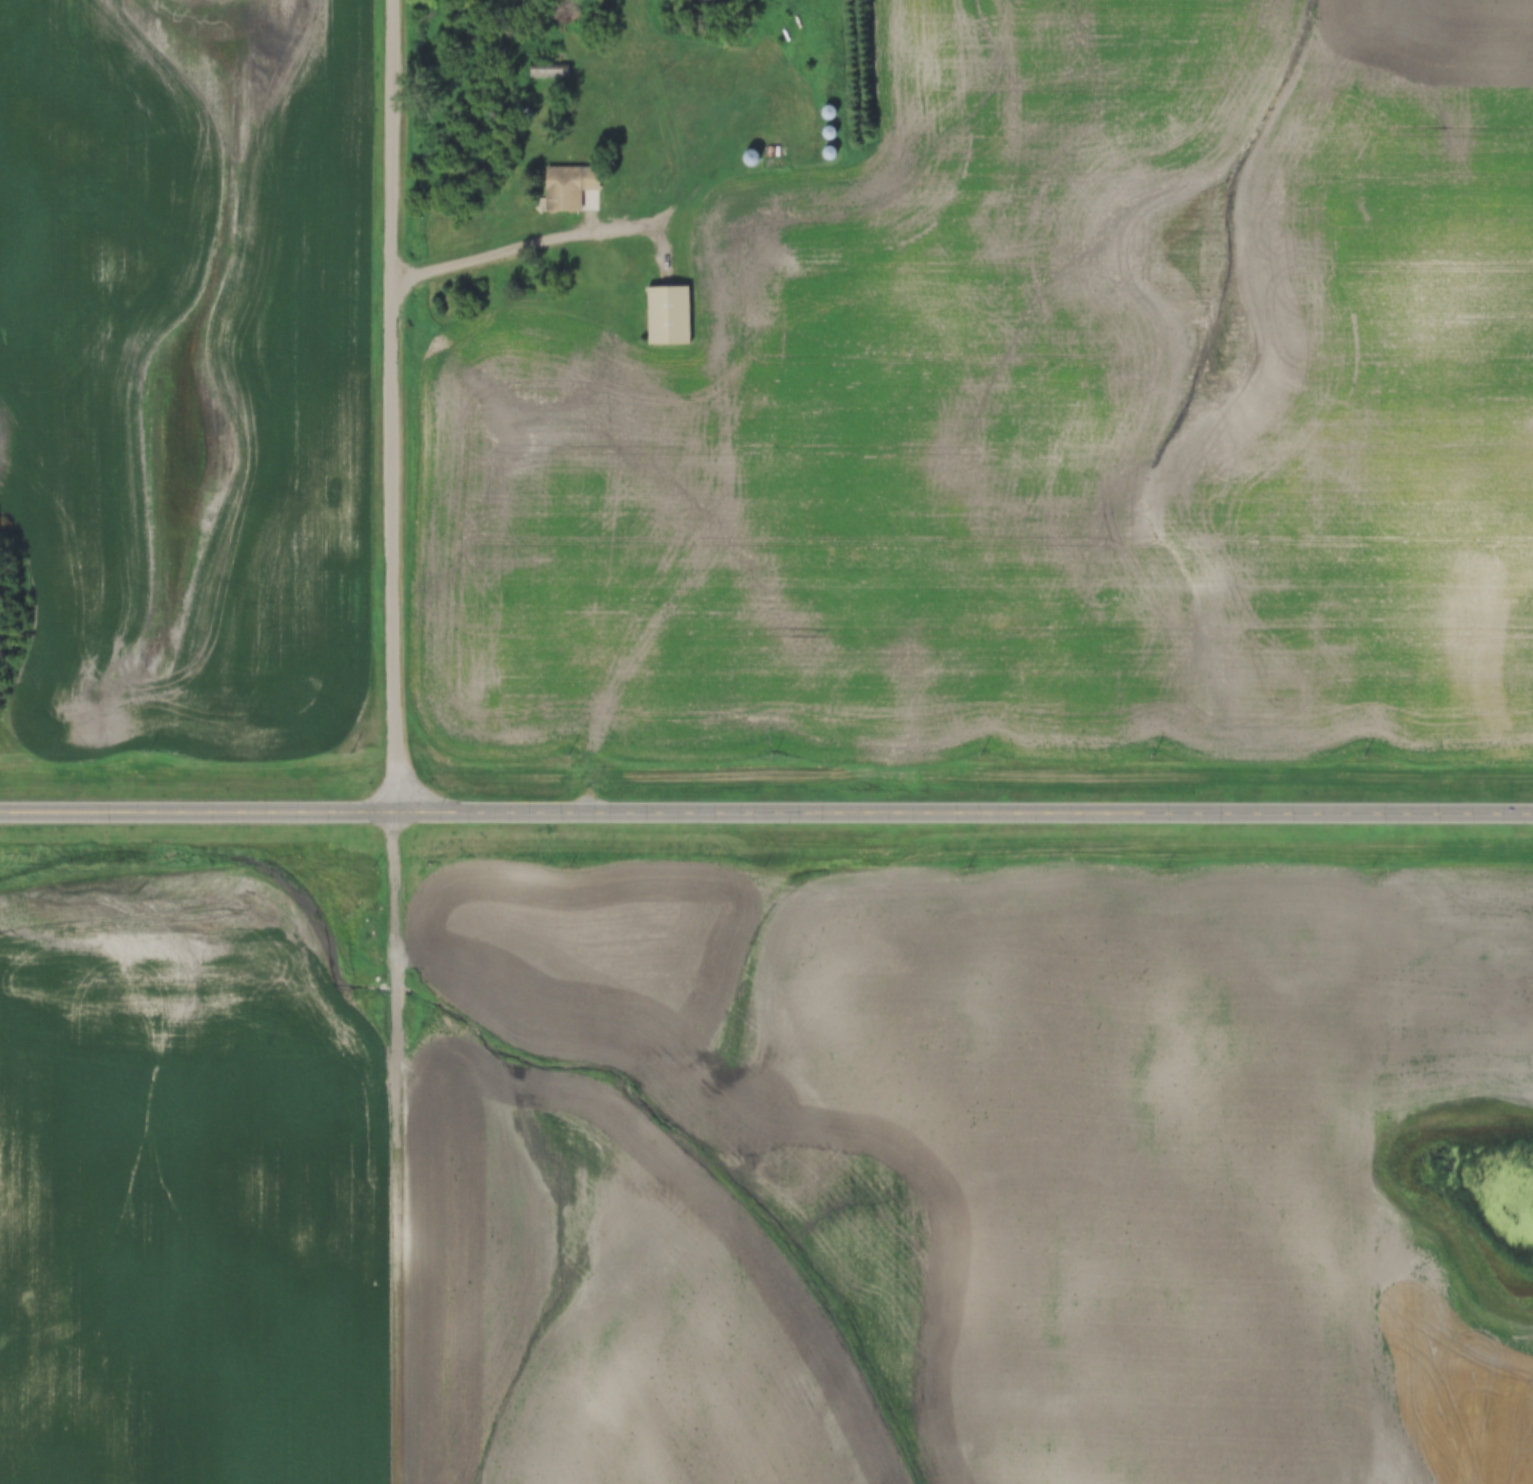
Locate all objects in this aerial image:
building: (827, 113)
building: (571, 189)
road: (539, 243)
building: (806, 263)
building: (667, 316)
road: (393, 406)
road: (766, 813)
road: (395, 1148)

